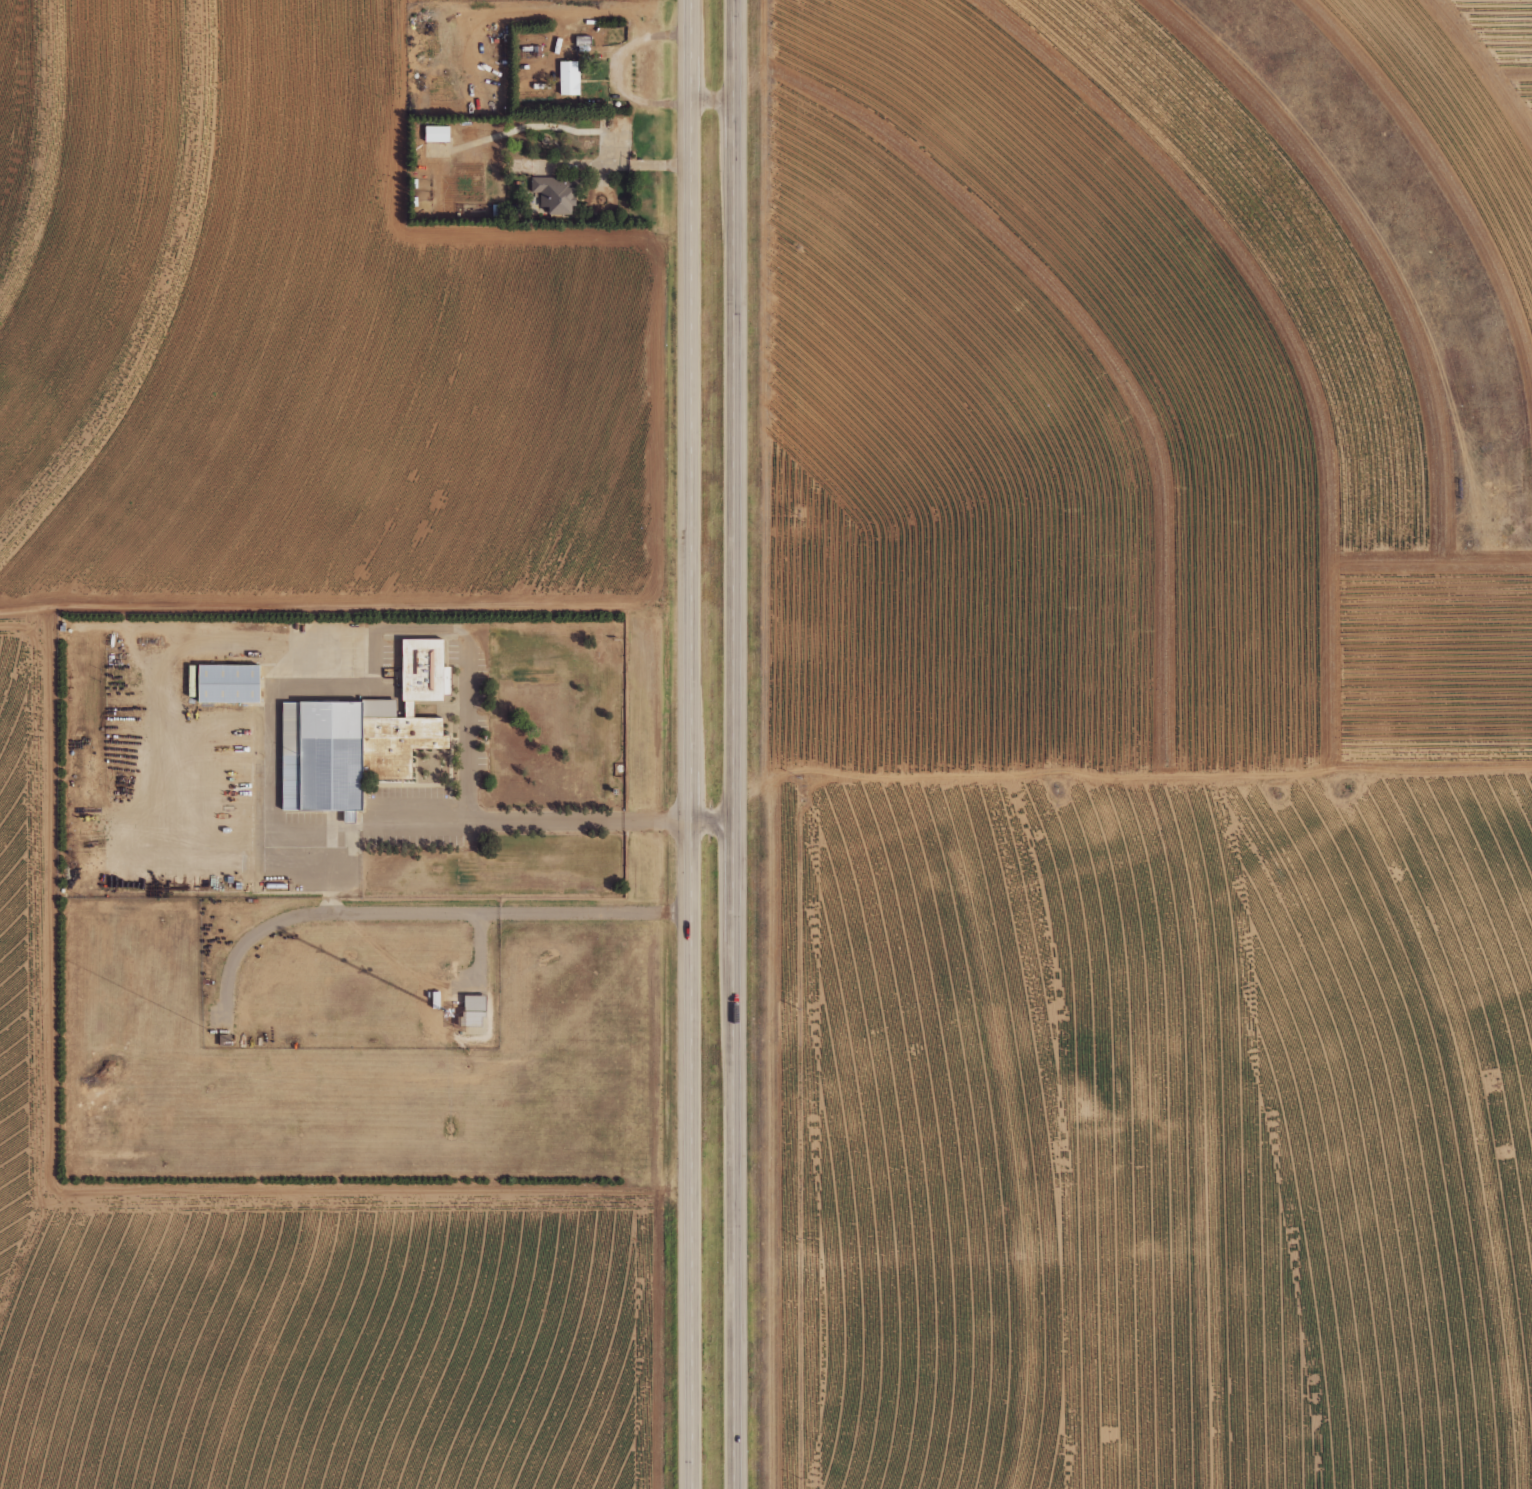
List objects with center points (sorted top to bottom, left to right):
road: (617, 67)
building: (570, 78)
building: (438, 134)
road: (621, 160)
building: (557, 194)
building: (232, 683)
road: (698, 744)
road: (742, 744)
road: (447, 808)
road: (430, 913)
building: (477, 1003)

